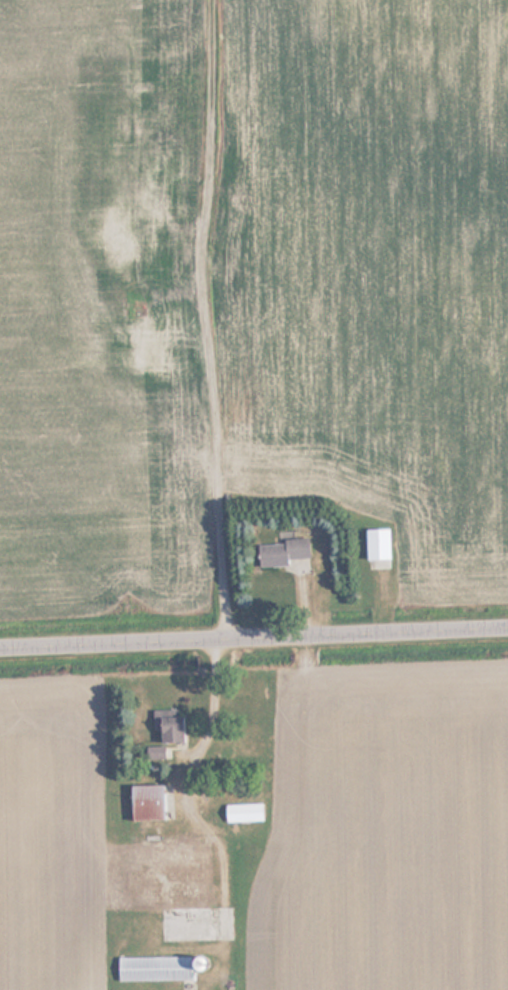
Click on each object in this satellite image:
building: (375, 545)
building: (280, 553)
road: (254, 635)
building: (167, 727)
building: (154, 754)
building: (144, 804)
building: (242, 814)
building: (154, 968)

